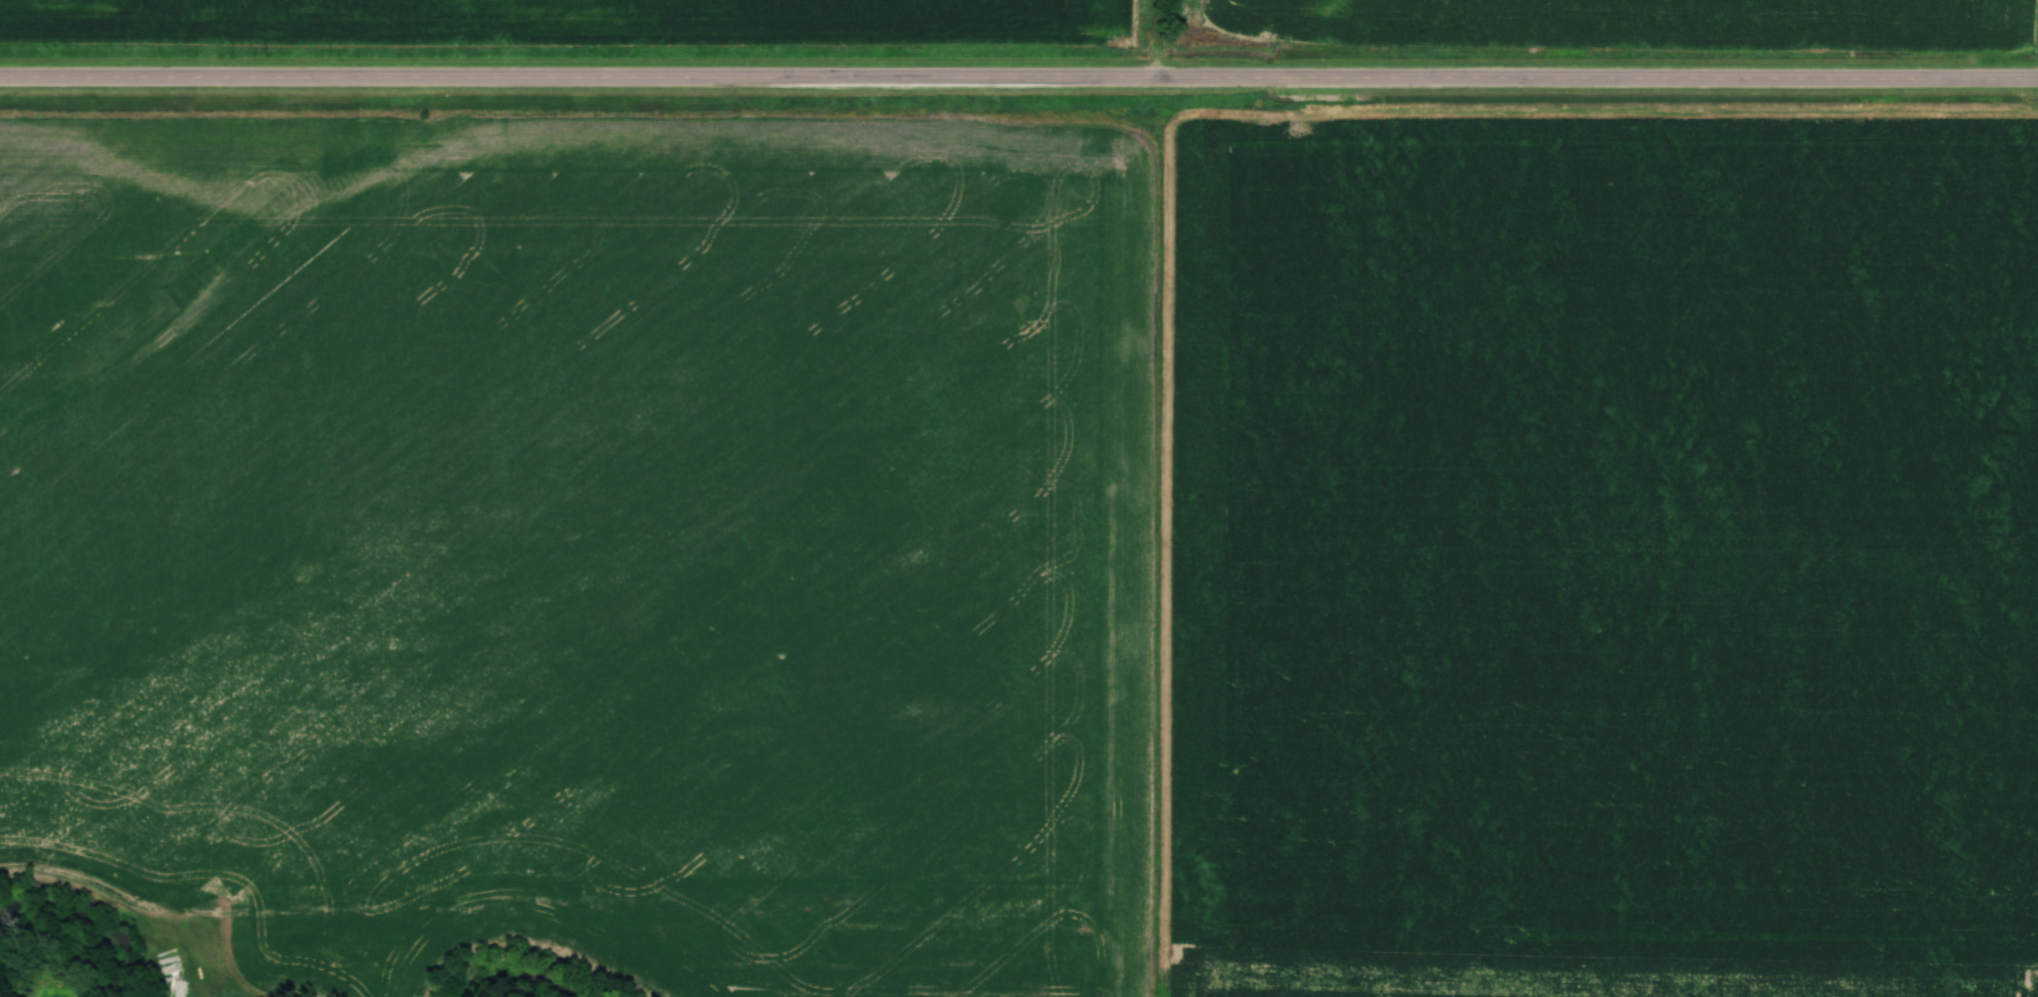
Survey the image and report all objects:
road: (1019, 76)
river: (76, 918)
river: (504, 991)

